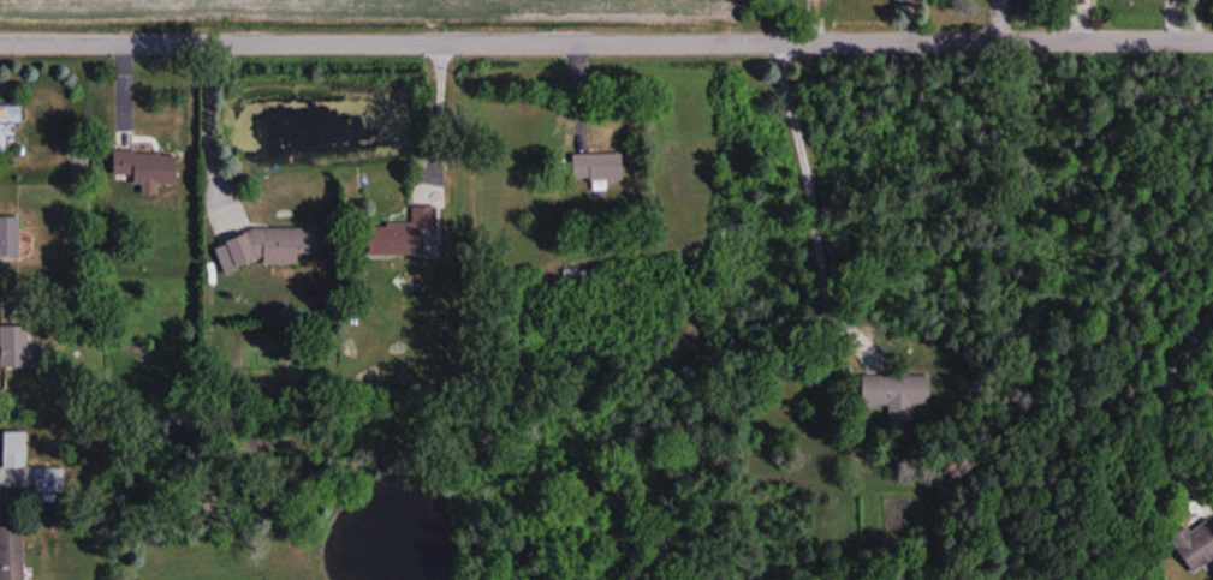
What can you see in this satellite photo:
road: (606, 38)
road: (412, 113)
building: (10, 121)
road: (204, 125)
building: (148, 165)
building: (597, 165)
road: (787, 199)
building: (406, 234)
building: (10, 237)
building: (268, 247)
building: (14, 345)
building: (892, 394)
building: (0, 399)
building: (14, 448)
building: (49, 478)
building: (12, 561)

